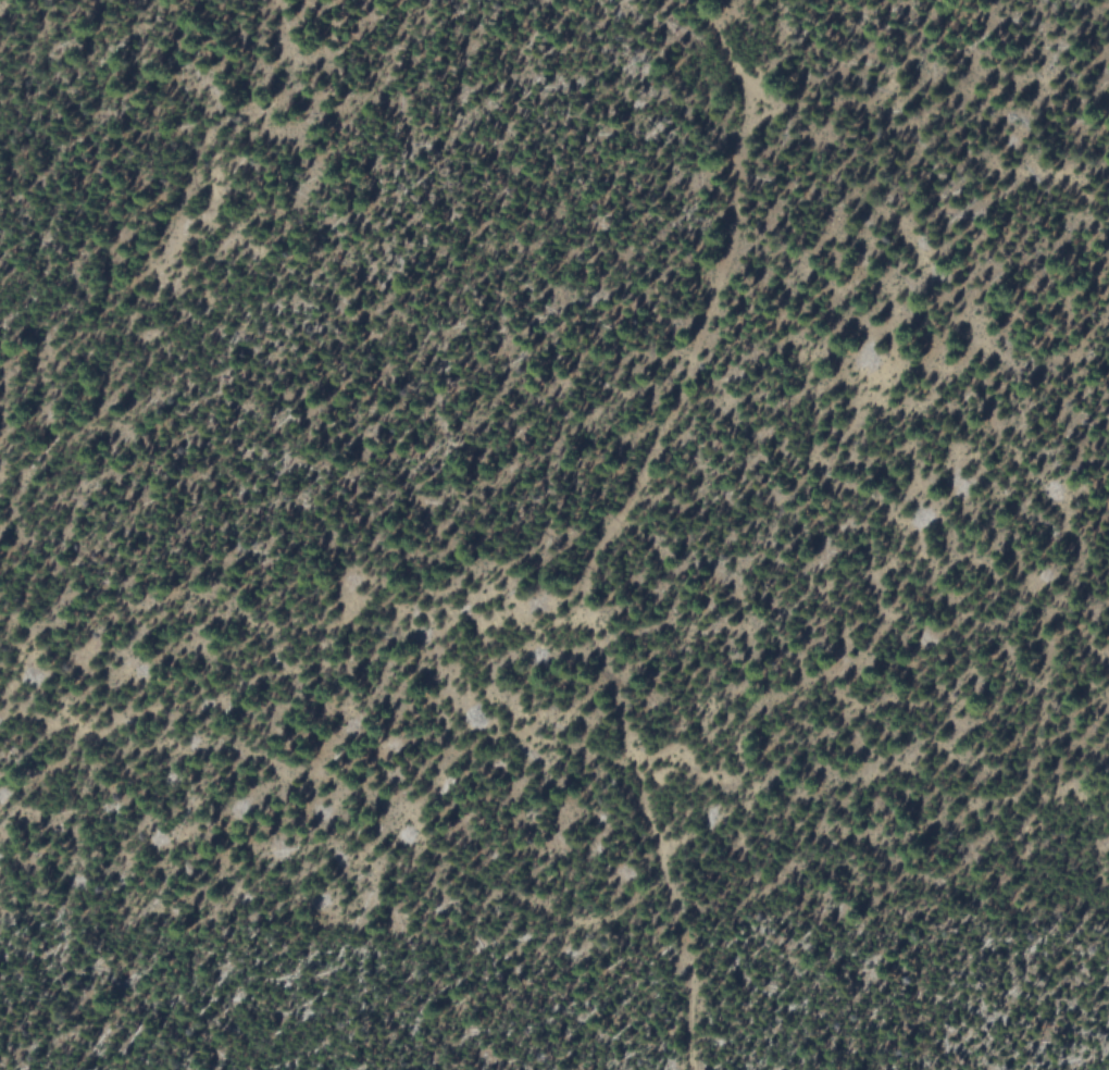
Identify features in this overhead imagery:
road: (771, 533)

